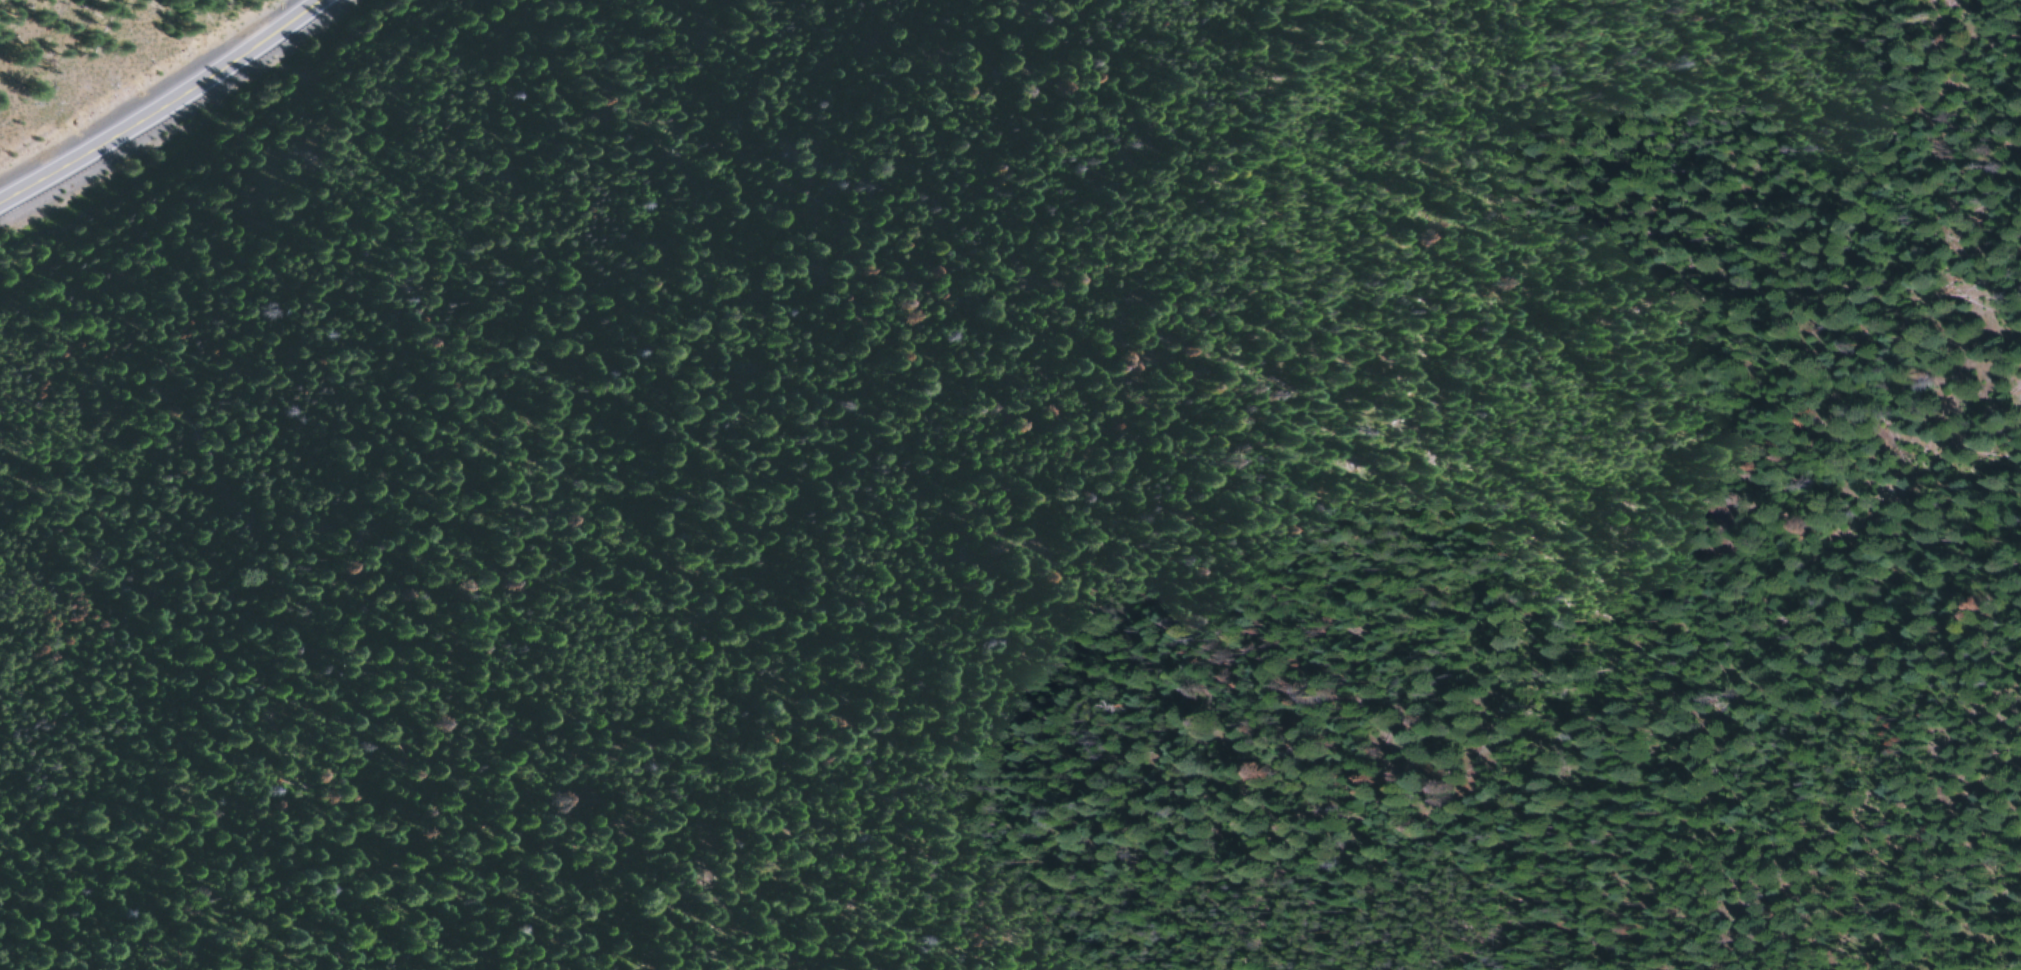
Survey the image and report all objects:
road: (177, 112)

